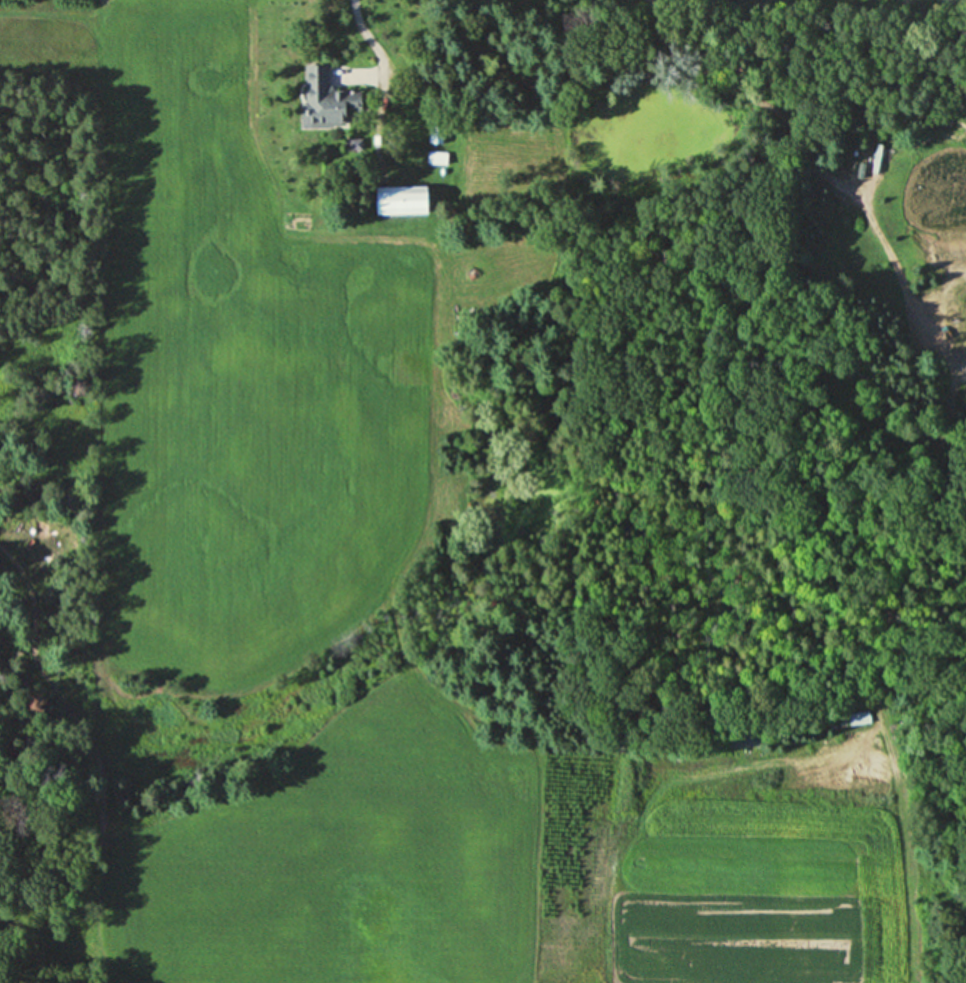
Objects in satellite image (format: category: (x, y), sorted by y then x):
road: (367, 40)
building: (324, 97)
building: (434, 158)
building: (396, 200)
building: (857, 718)

